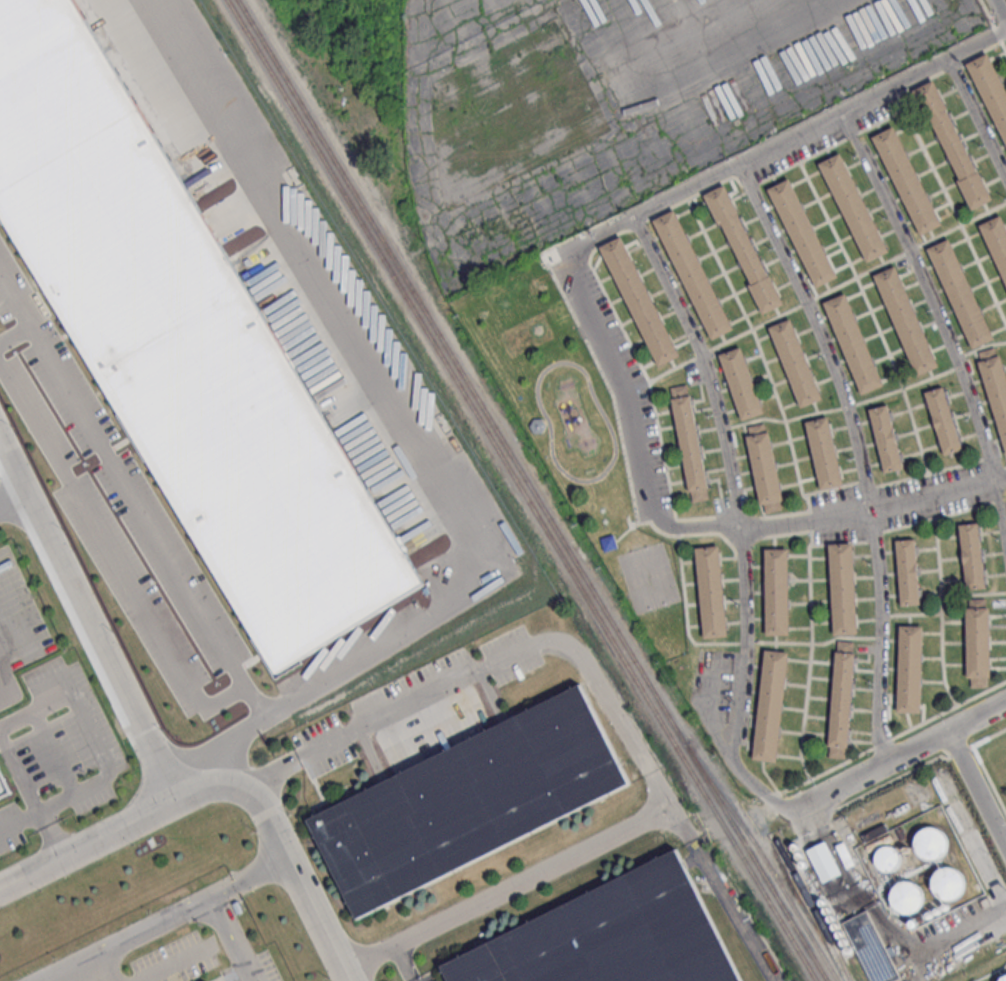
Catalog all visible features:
road: (1001, 8)
road: (993, 26)
building: (990, 89)
road: (978, 117)
road: (819, 123)
building: (956, 154)
railway: (324, 156)
building: (907, 180)
building: (853, 207)
building: (802, 232)
building: (996, 240)
building: (744, 249)
building: (692, 273)
building: (960, 293)
road: (814, 297)
building: (640, 301)
road: (936, 317)
building: (905, 320)
road: (16, 337)
building: (853, 343)
building: (186, 344)
building: (795, 362)
road: (616, 381)
building: (741, 383)
building: (995, 386)
building: (943, 420)
building: (537, 425)
building: (885, 438)
building: (689, 442)
road: (414, 445)
park: (574, 447)
building: (824, 452)
road: (856, 455)
building: (764, 467)
railway: (533, 490)
road: (132, 495)
road: (14, 502)
road: (873, 512)
road: (736, 519)
building: (971, 555)
road: (115, 557)
building: (907, 571)
building: (843, 588)
building: (711, 591)
building: (777, 591)
road: (89, 619)
parking lot: (17, 628)
building: (977, 642)
railway: (617, 647)
road: (509, 655)
building: (909, 668)
building: (841, 698)
building: (770, 705)
road: (92, 733)
road: (887, 739)
parking lot: (56, 749)
road: (55, 753)
road: (901, 758)
road: (918, 767)
road: (19, 774)
building: (1, 787)
road: (979, 787)
building: (468, 800)
building: (2, 802)
road: (20, 822)
road: (53, 835)
road: (89, 845)
building: (932, 845)
storage tank: (932, 845)
building: (796, 848)
storage tank: (796, 848)
road: (285, 851)
building: (801, 856)
storage tank: (801, 856)
building: (890, 859)
storage tank: (890, 859)
building: (825, 862)
building: (805, 865)
storage tank: (805, 865)
building: (949, 884)
storage tank: (949, 884)
road: (506, 886)
building: (908, 897)
storage tank: (908, 897)
road: (732, 910)
building: (829, 911)
storage tank: (829, 911)
road: (162, 918)
building: (832, 919)
storage tank: (832, 919)
building: (837, 928)
storage tank: (837, 928)
building: (611, 935)
building: (842, 935)
storage tank: (842, 935)
road: (229, 938)
building: (846, 943)
storage tank: (846, 943)
building: (871, 949)
building: (851, 952)
storage tank: (851, 952)
road: (403, 963)
building: (1004, 979)
storage tank: (1004, 979)

